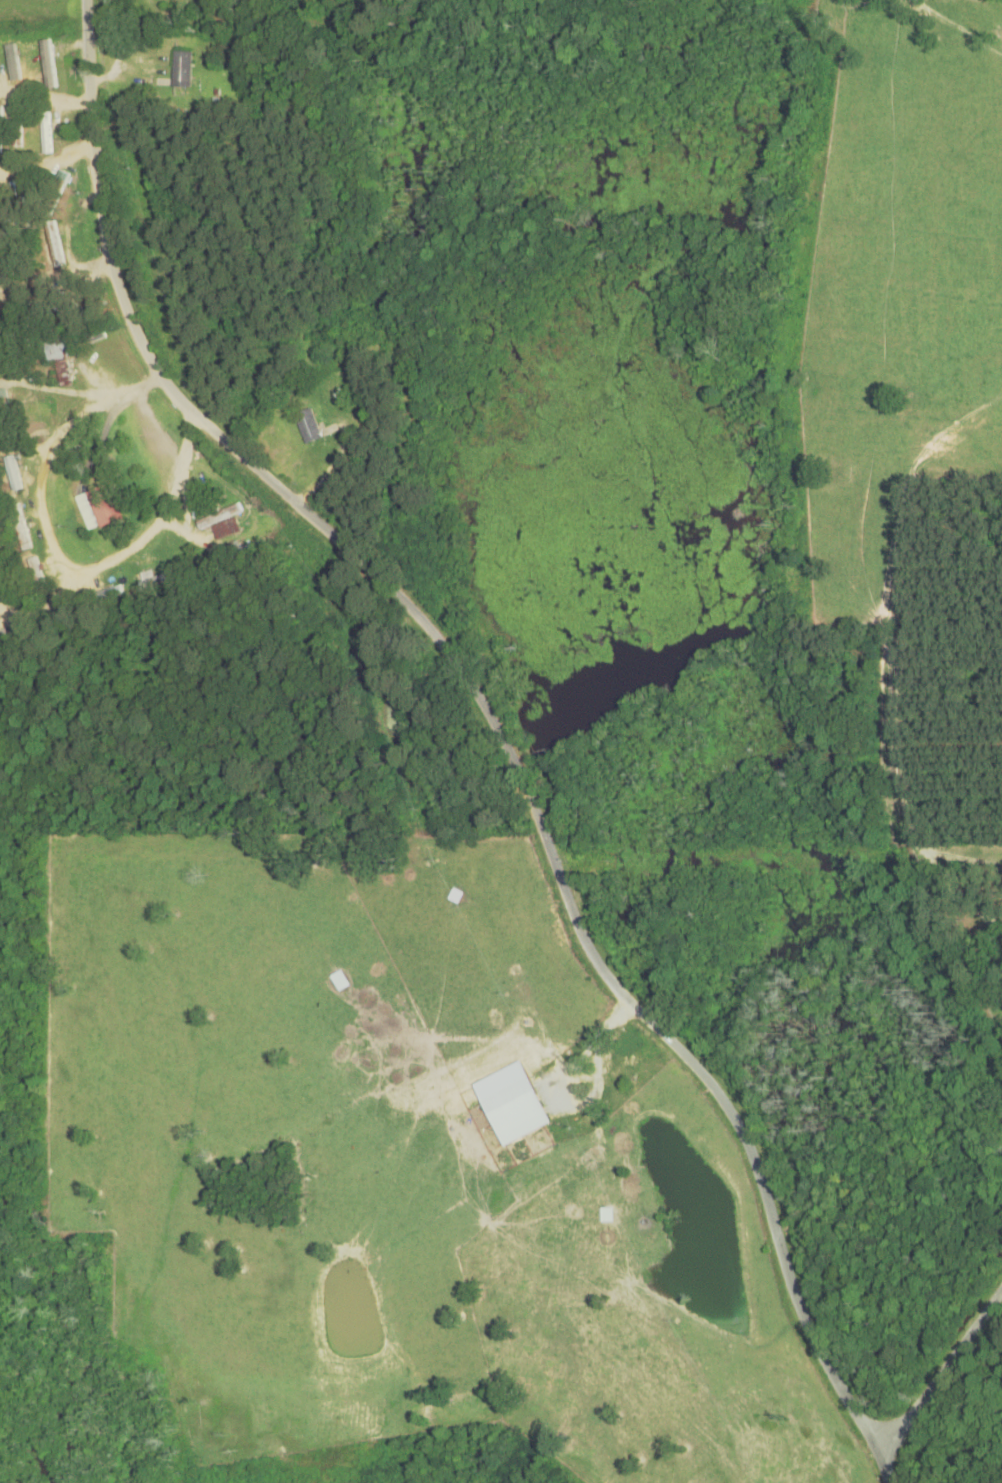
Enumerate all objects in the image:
building: (19, 51)
building: (180, 70)
road: (64, 83)
building: (0, 130)
building: (16, 134)
building: (45, 134)
road: (77, 249)
building: (60, 348)
building: (2, 395)
building: (307, 427)
building: (14, 475)
river: (599, 486)
building: (97, 508)
building: (218, 517)
building: (20, 527)
road: (160, 548)
building: (36, 575)
building: (10, 591)
building: (104, 595)
road: (281, 706)
road: (505, 726)
road: (389, 821)
road: (943, 1373)

